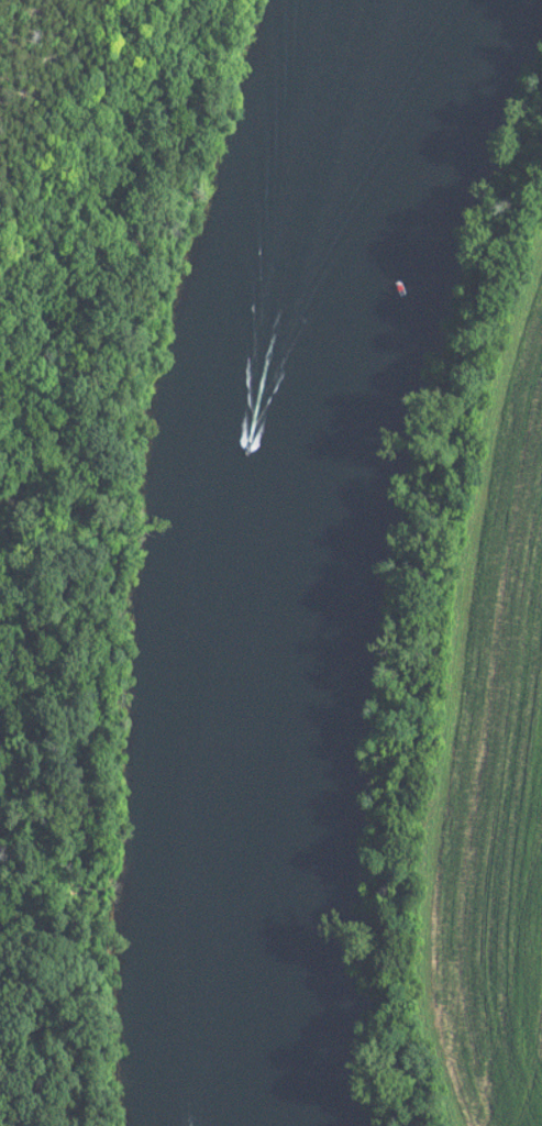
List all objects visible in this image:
road: (68, 515)
river: (278, 551)

